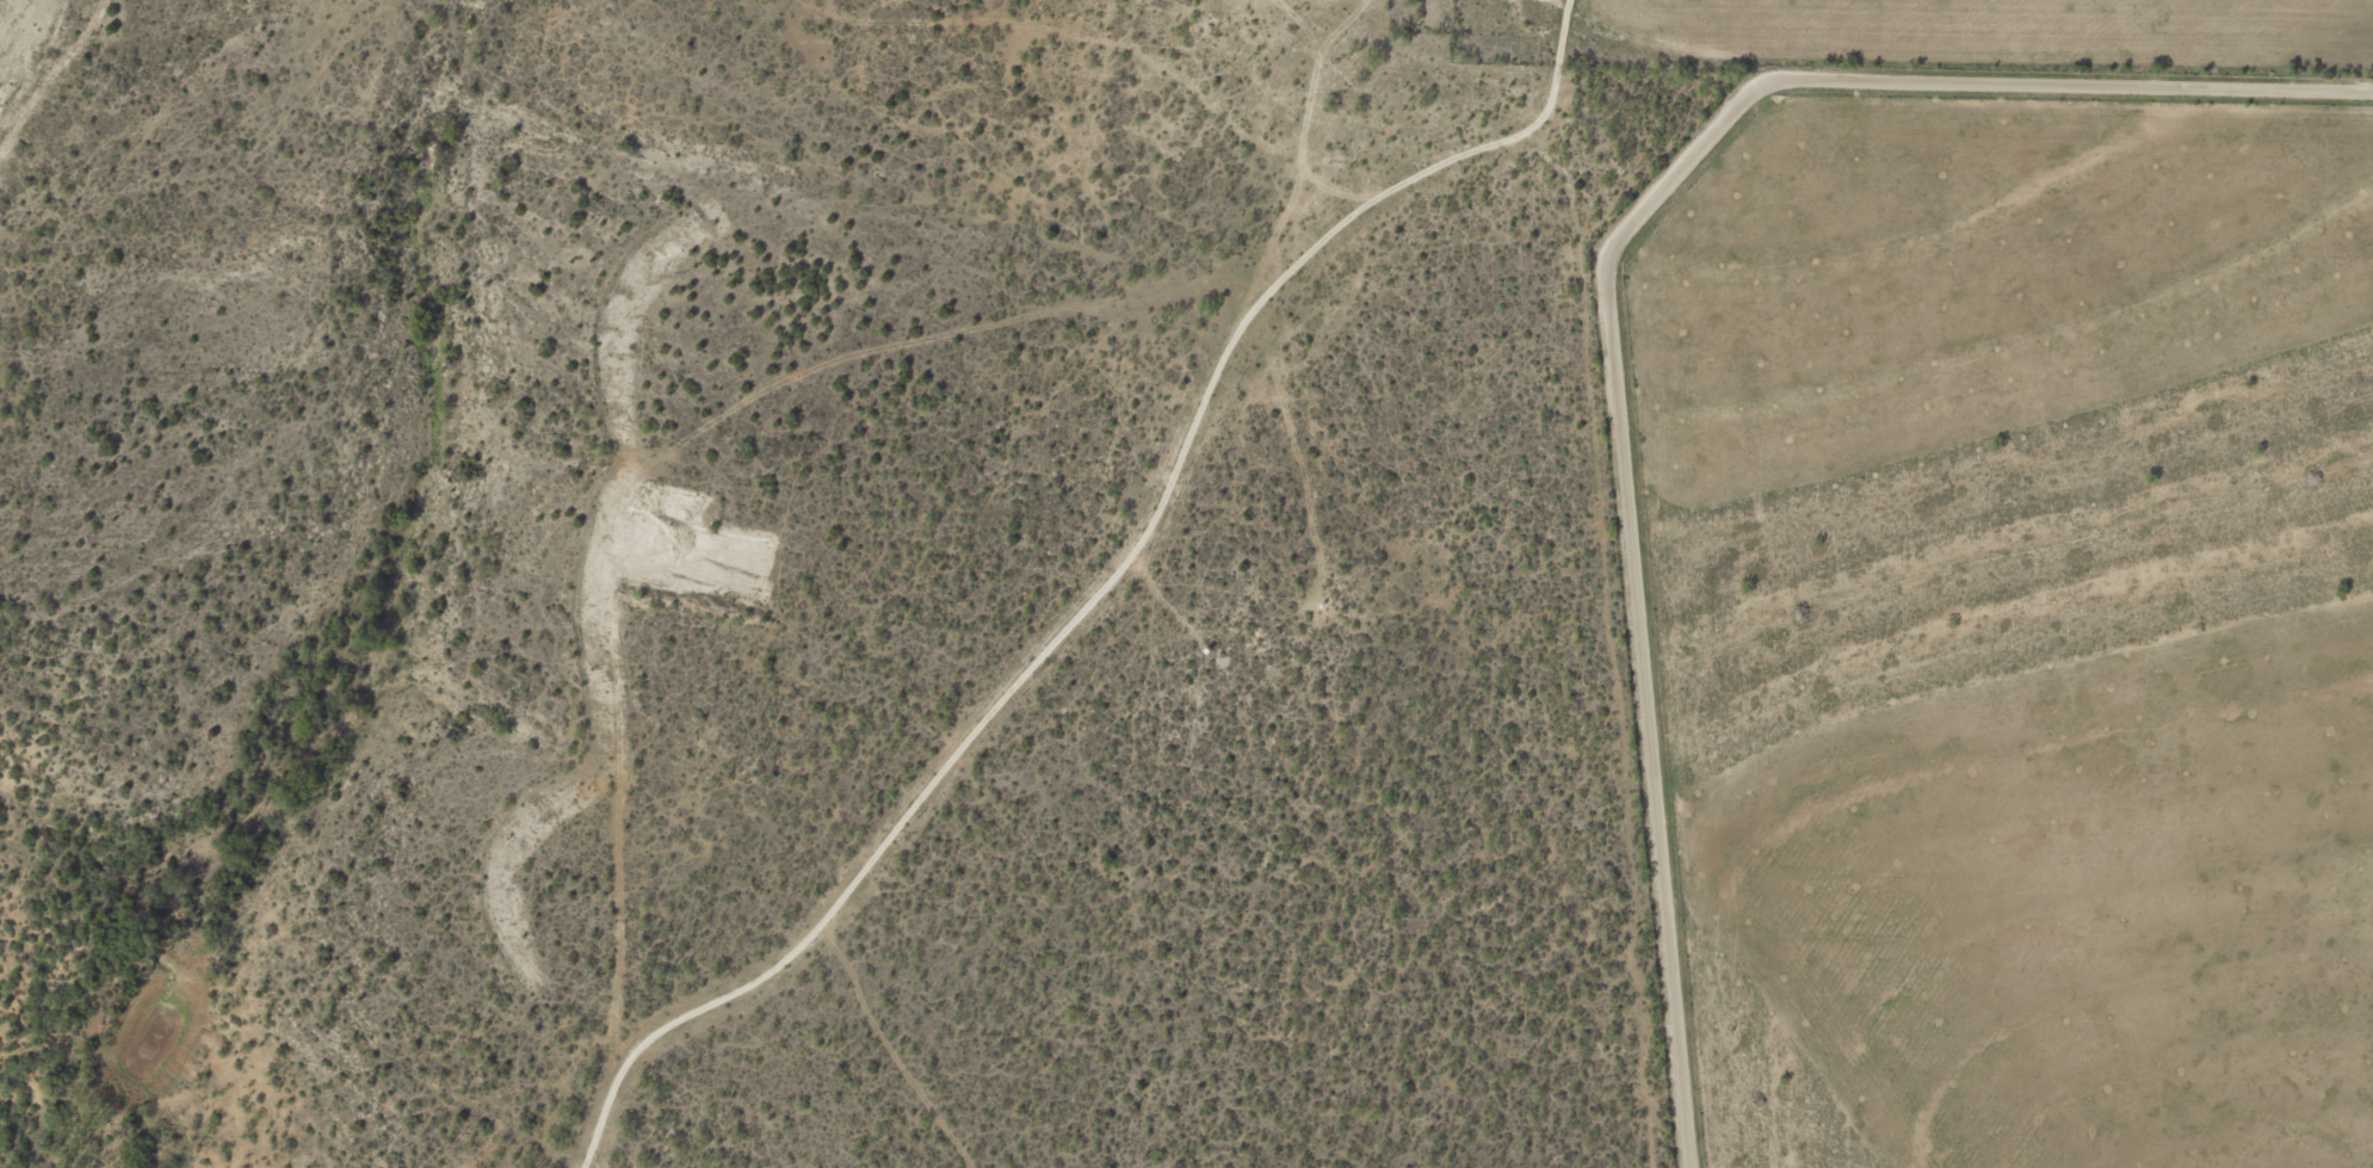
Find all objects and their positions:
road: (1656, 39)
road: (2070, 72)
road: (1673, 604)
road: (1123, 605)

